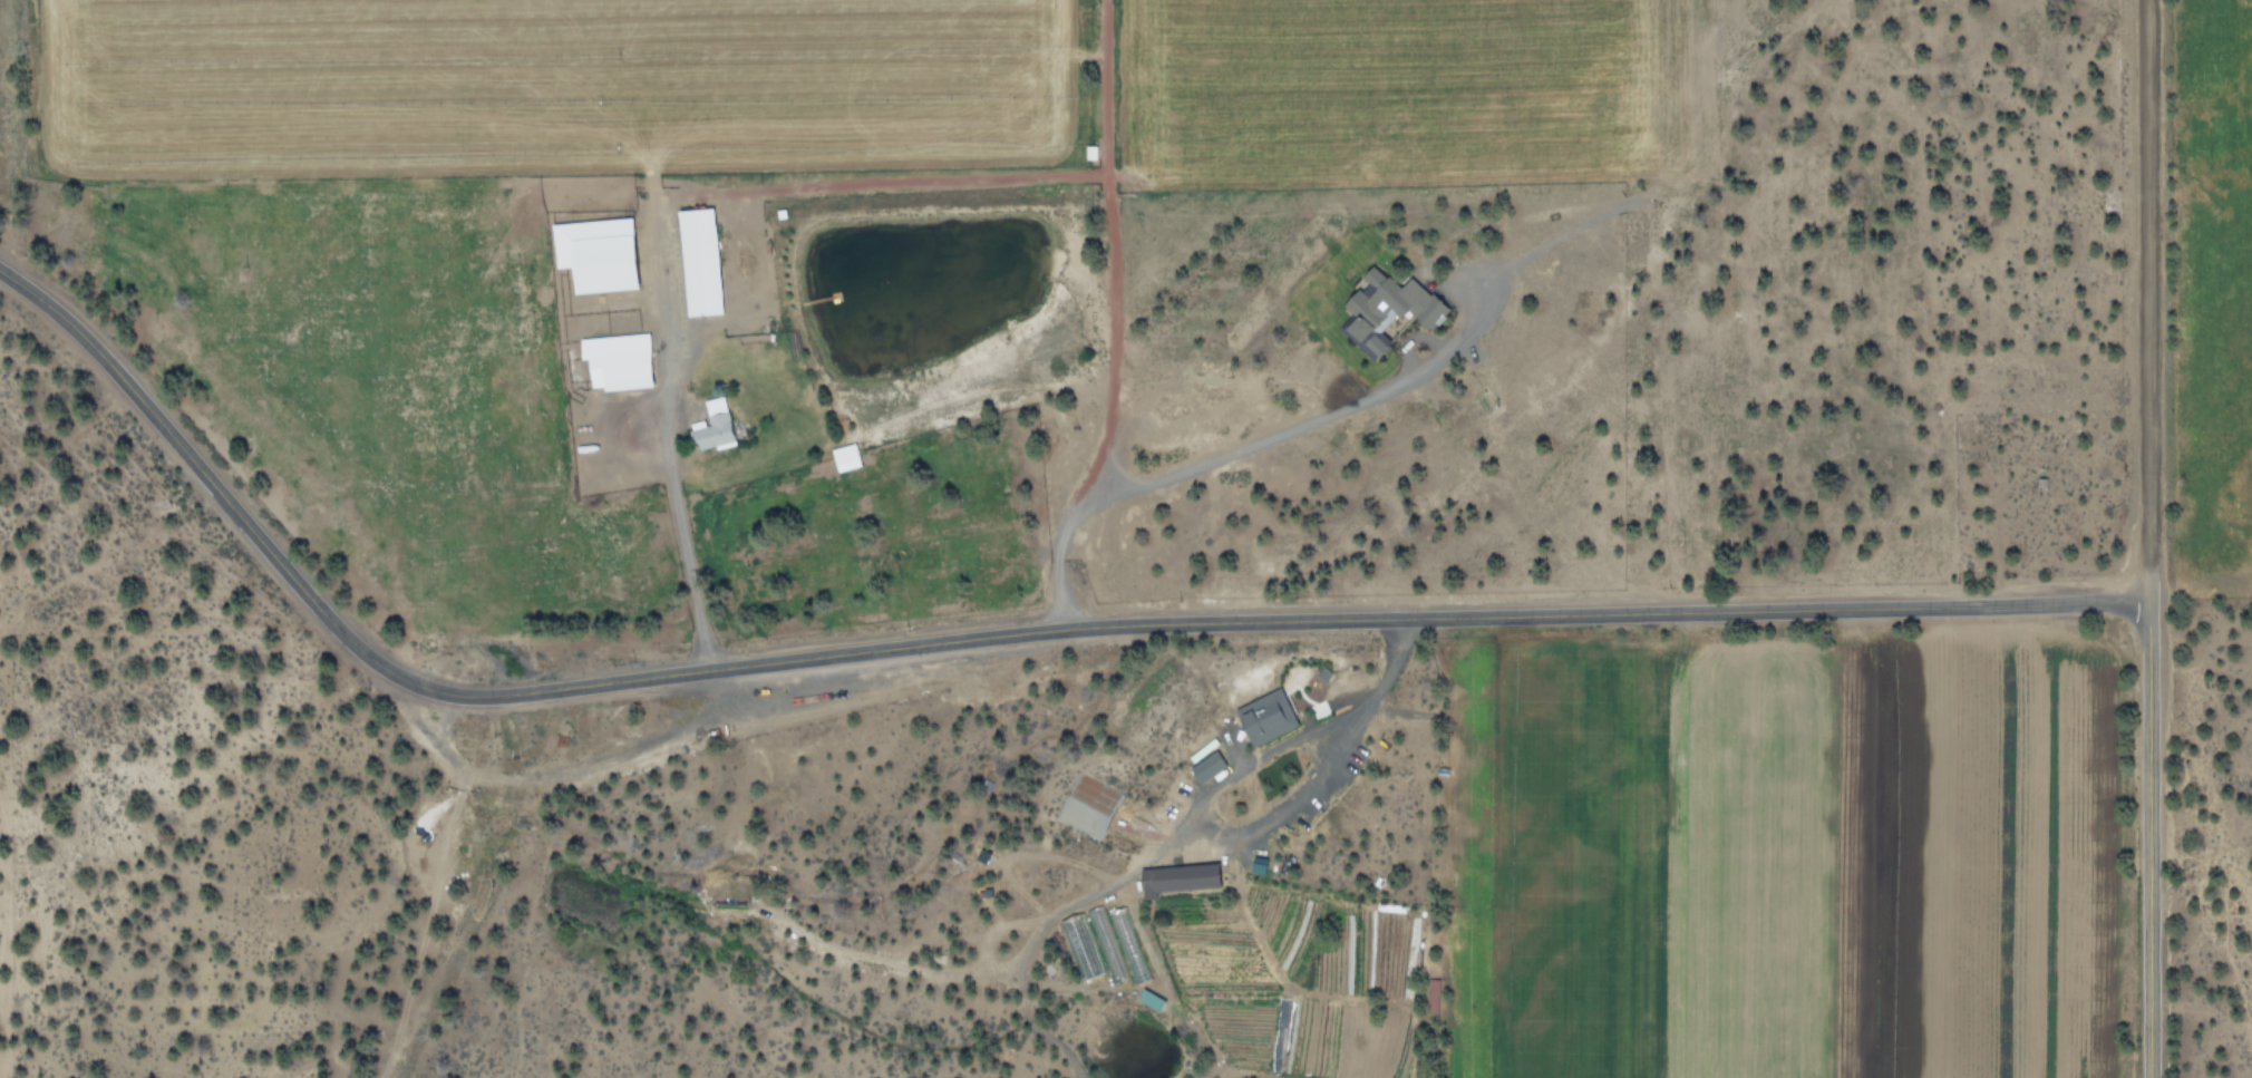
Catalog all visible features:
building: (595, 253)
building: (698, 261)
crop: (832, 264)
crop: (2227, 290)
road: (2144, 302)
building: (1388, 308)
building: (617, 360)
building: (714, 426)
building: (844, 457)
road: (699, 610)
road: (980, 640)
building: (1265, 717)
building: (1206, 766)
building: (1087, 805)
road: (2148, 842)
building: (1178, 880)
building: (1149, 999)

